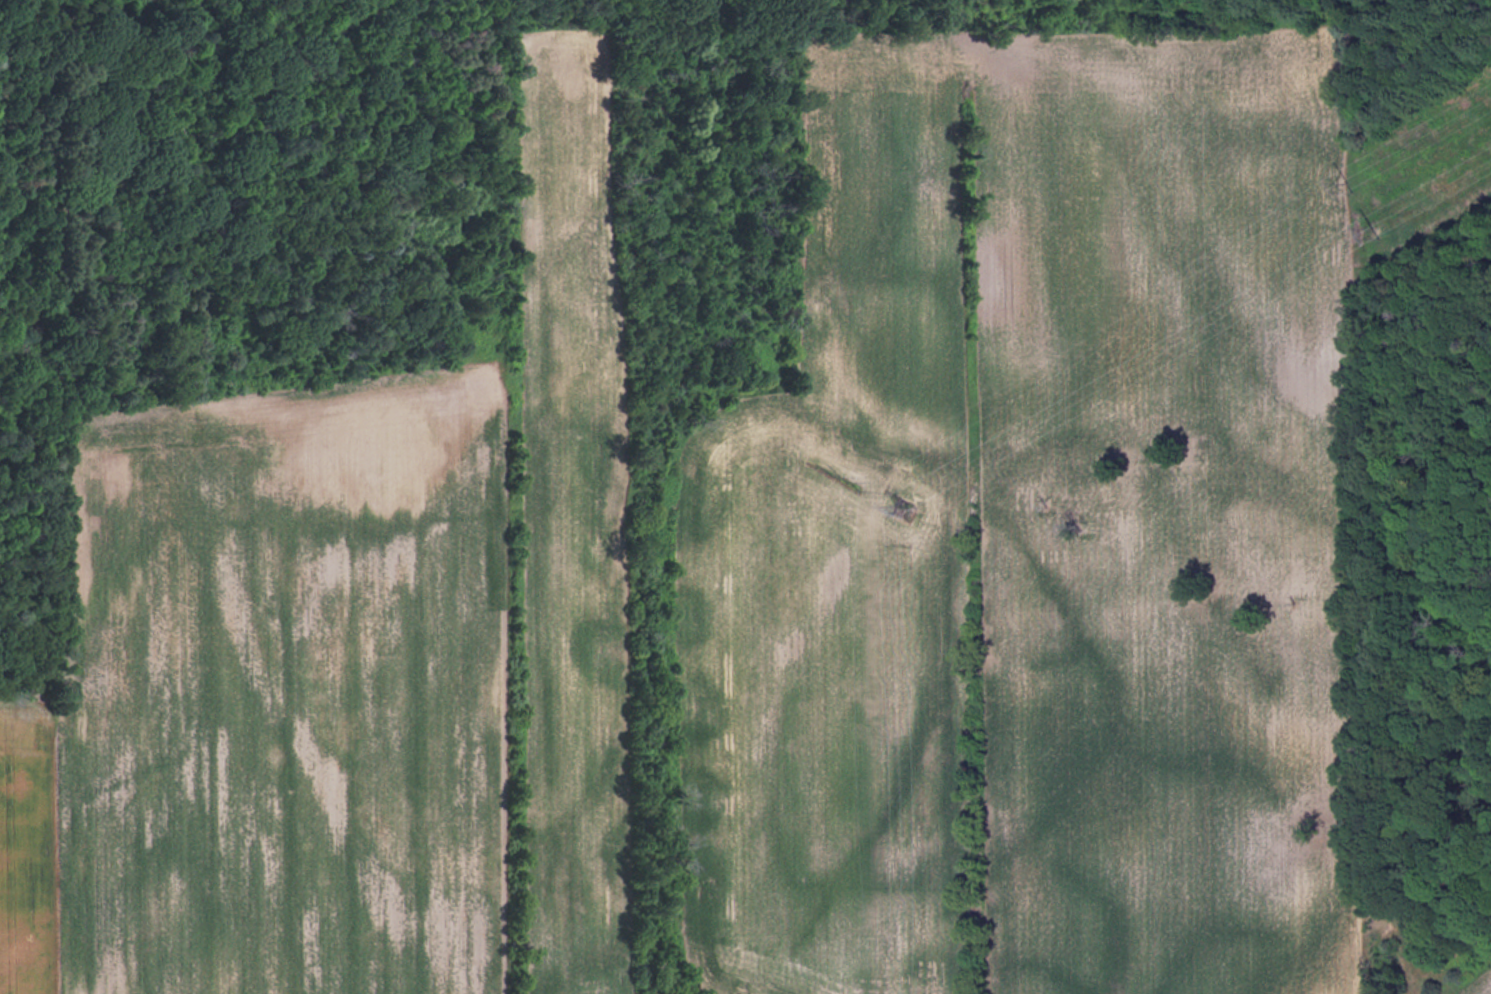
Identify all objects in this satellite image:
power tower: (1347, 188)
power tower: (1373, 233)
power tower: (849, 474)
power tower: (906, 508)

